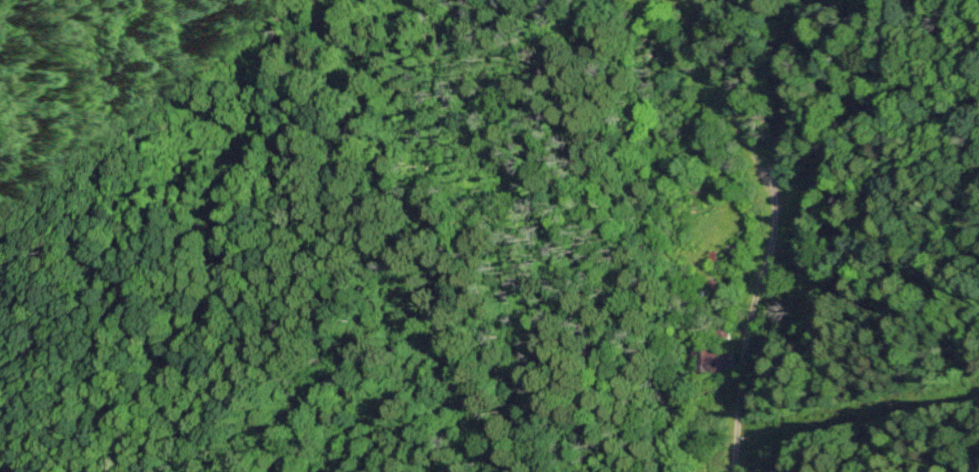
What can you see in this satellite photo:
road: (772, 236)
building: (737, 252)

